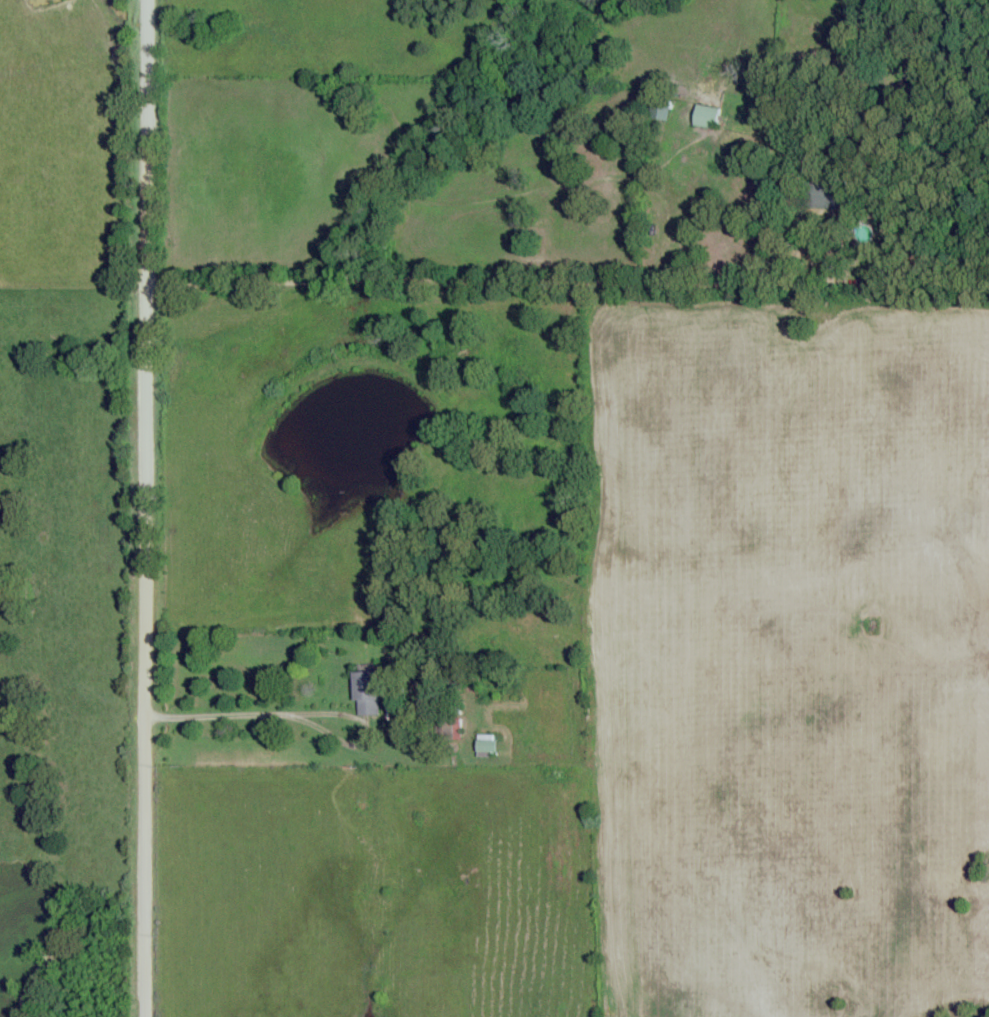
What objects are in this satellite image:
building: (659, 110)
building: (704, 117)
building: (827, 193)
road: (574, 245)
road: (157, 508)
building: (364, 693)
building: (484, 746)

